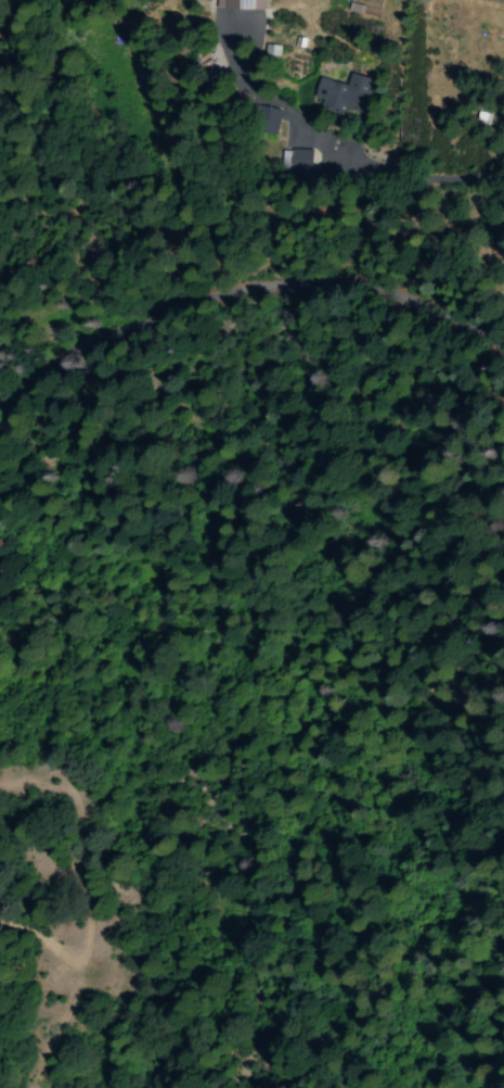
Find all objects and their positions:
building: (240, 4)
building: (241, 28)
building: (341, 93)
building: (266, 121)
building: (296, 160)
road: (236, 292)

